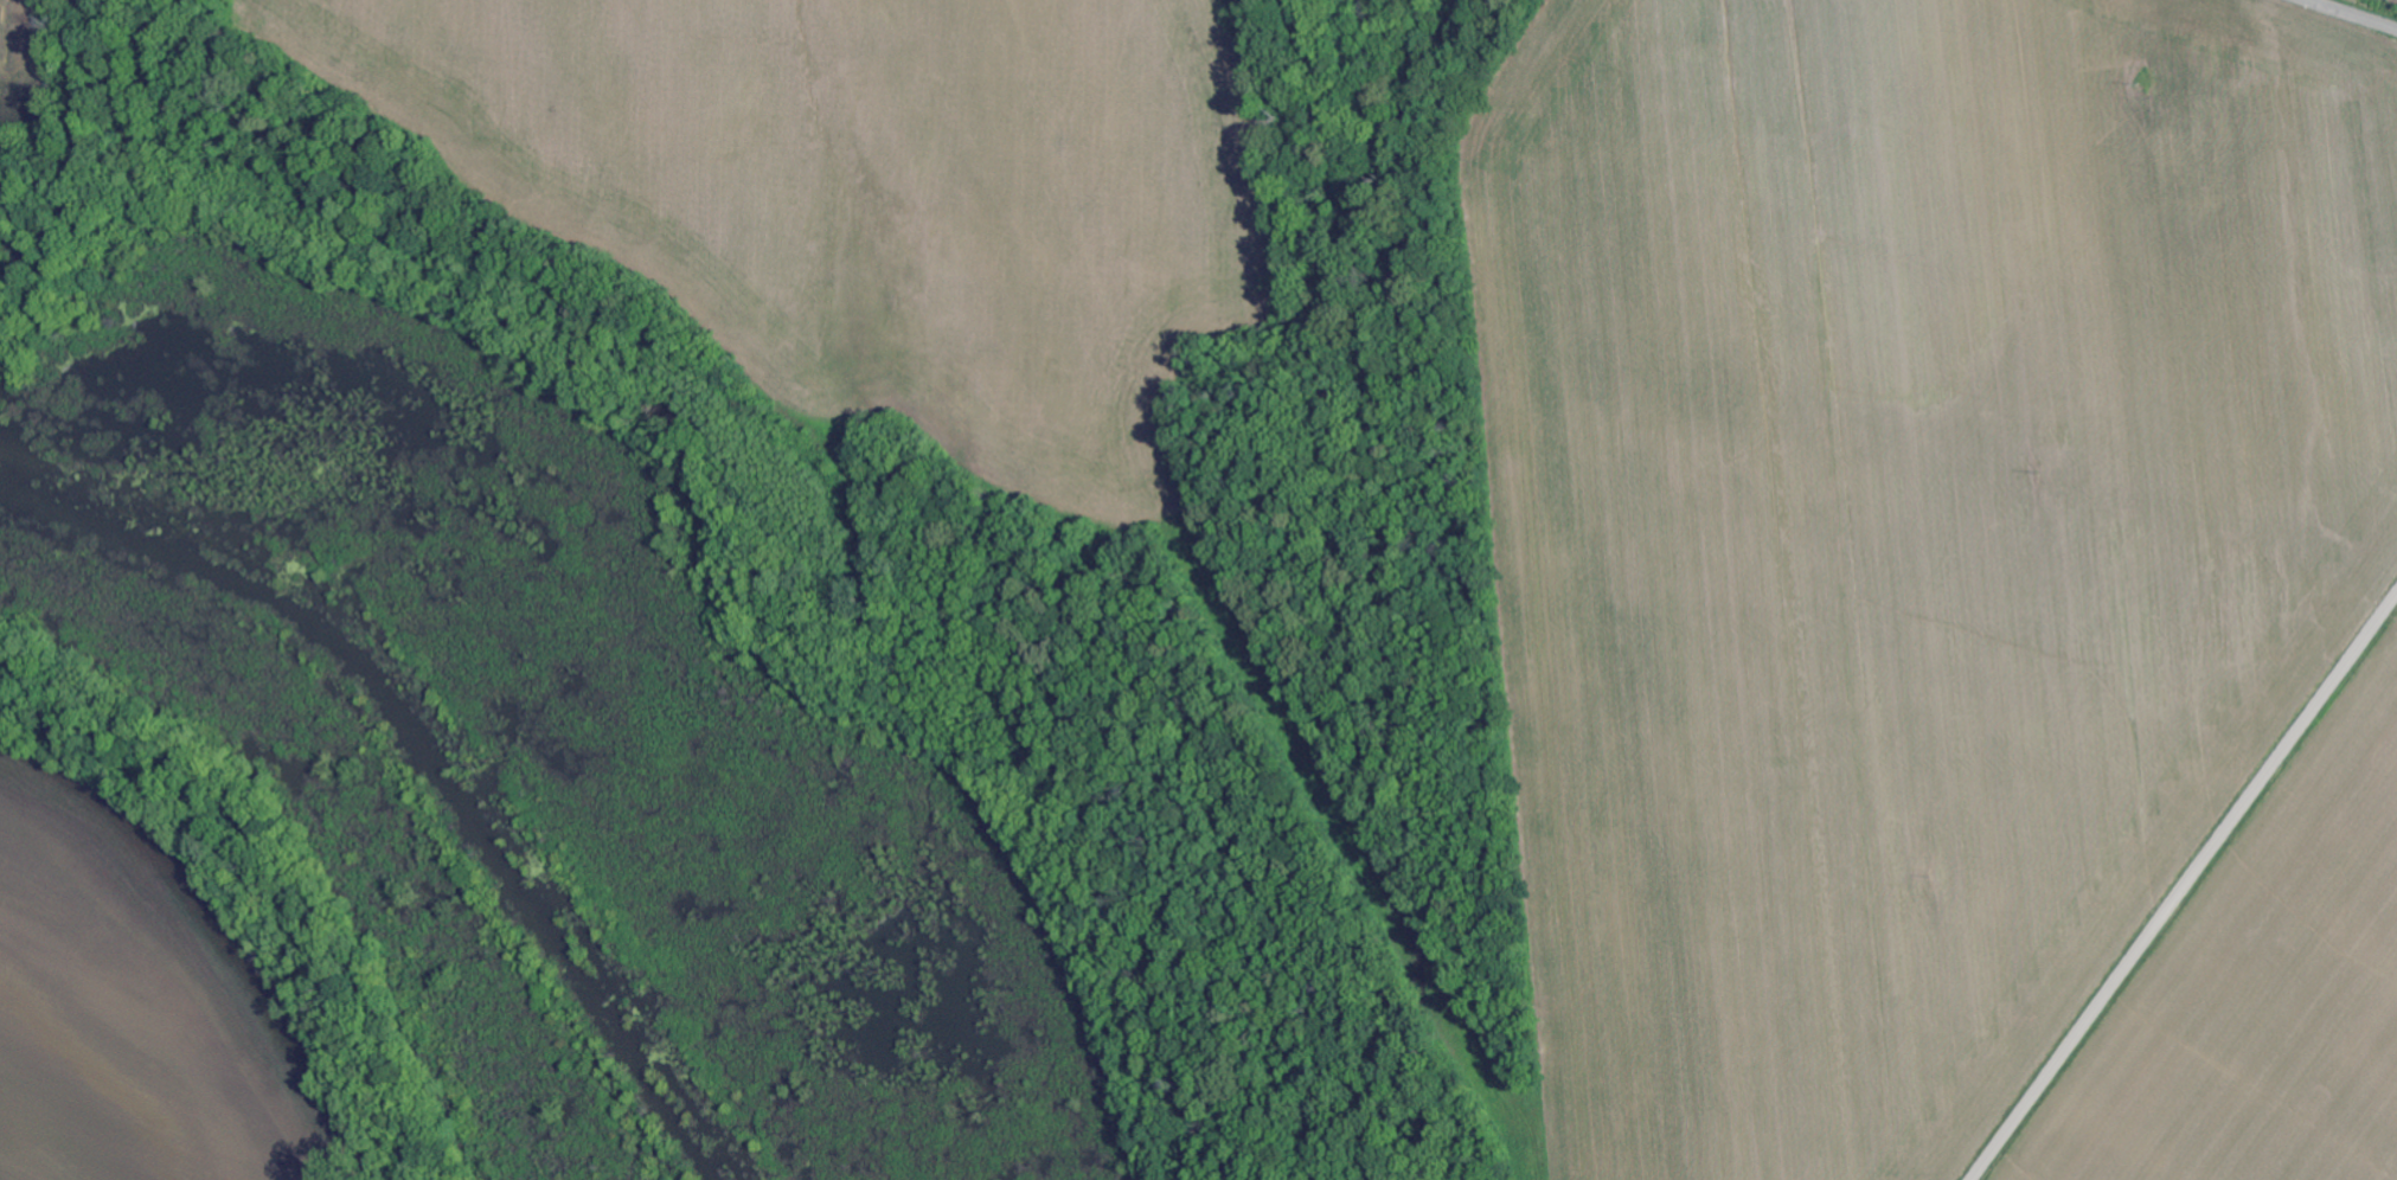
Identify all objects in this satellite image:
road: (2352, 14)
road: (2356, 173)
road: (2184, 887)

